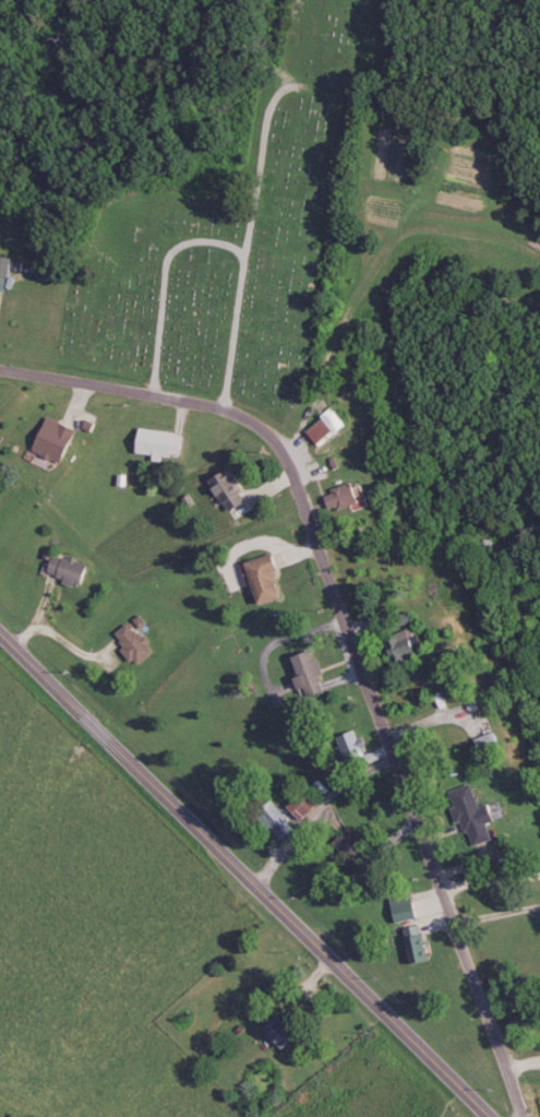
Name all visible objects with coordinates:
building: (538, 231)
building: (321, 428)
building: (47, 440)
building: (152, 443)
building: (221, 489)
building: (340, 498)
building: (60, 568)
building: (257, 580)
road: (358, 640)
building: (127, 643)
building: (397, 650)
building: (303, 674)
building: (483, 744)
building: (348, 746)
building: (299, 804)
building: (272, 816)
building: (468, 816)
building: (349, 845)
road: (491, 875)
road: (248, 876)
building: (272, 1031)

